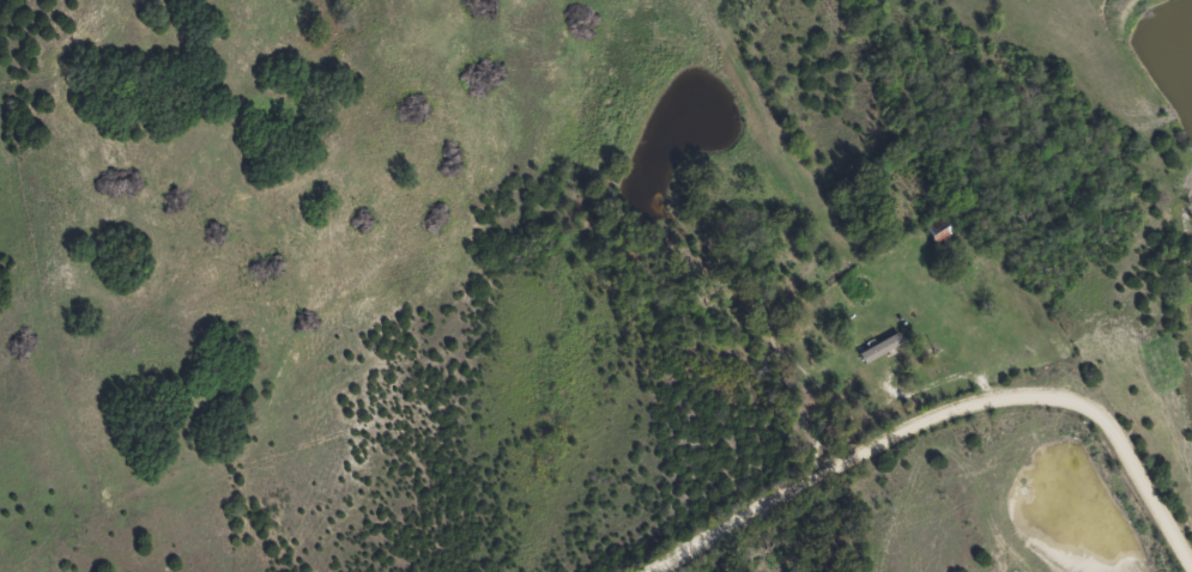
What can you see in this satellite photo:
building: (942, 232)
road: (952, 415)

